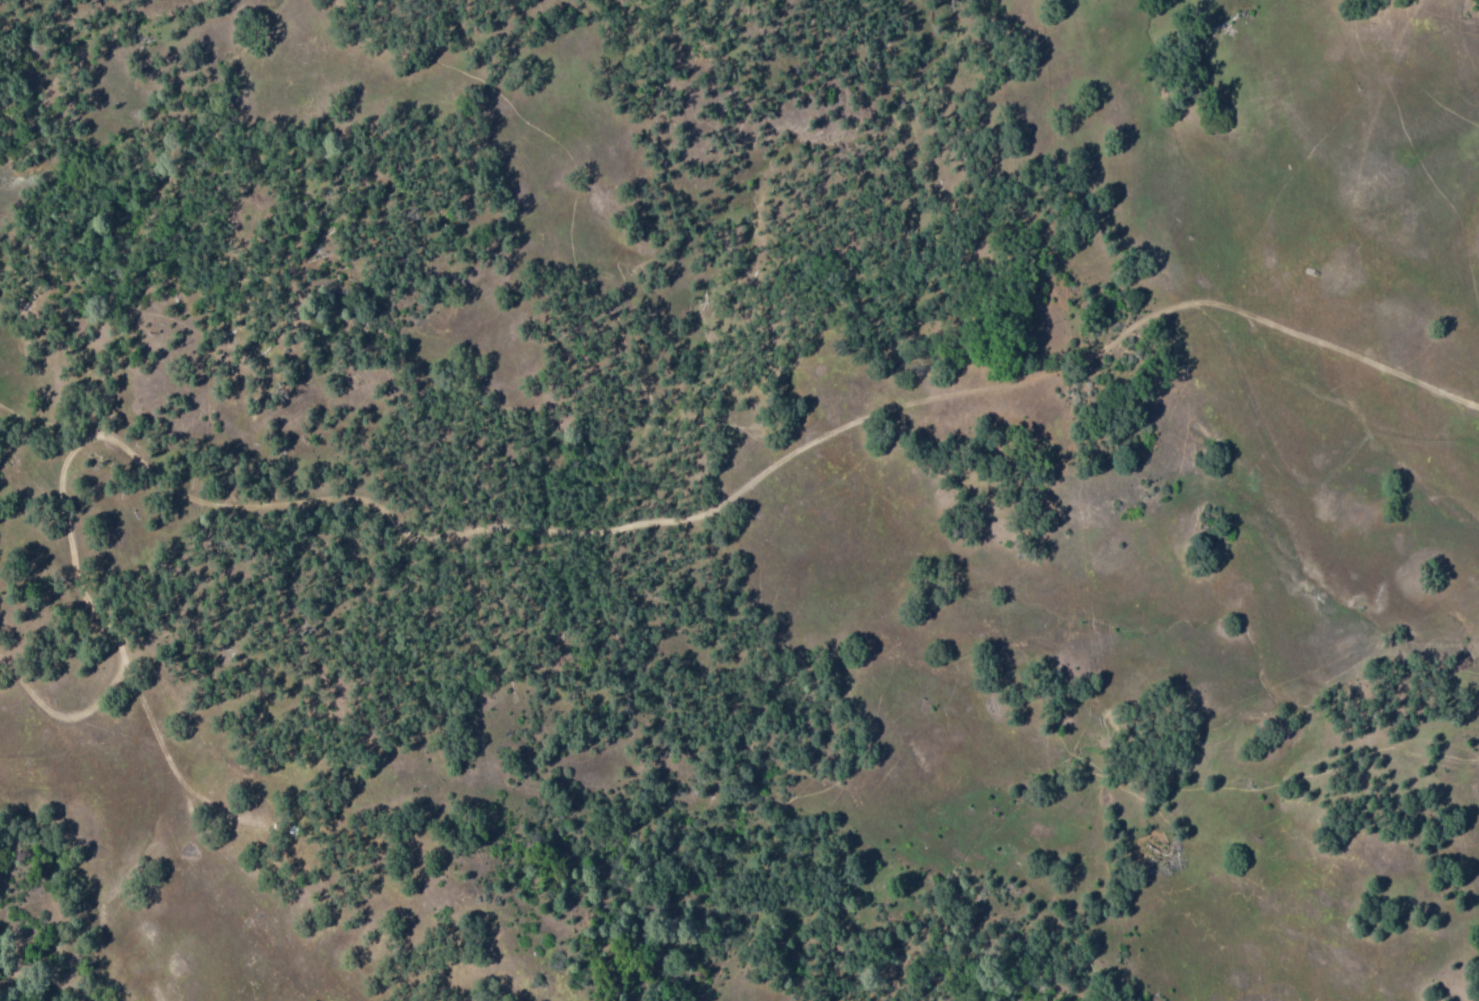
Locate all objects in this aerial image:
road: (1, 410)
road: (749, 472)
road: (7, 488)
road: (11, 631)
road: (24, 659)

